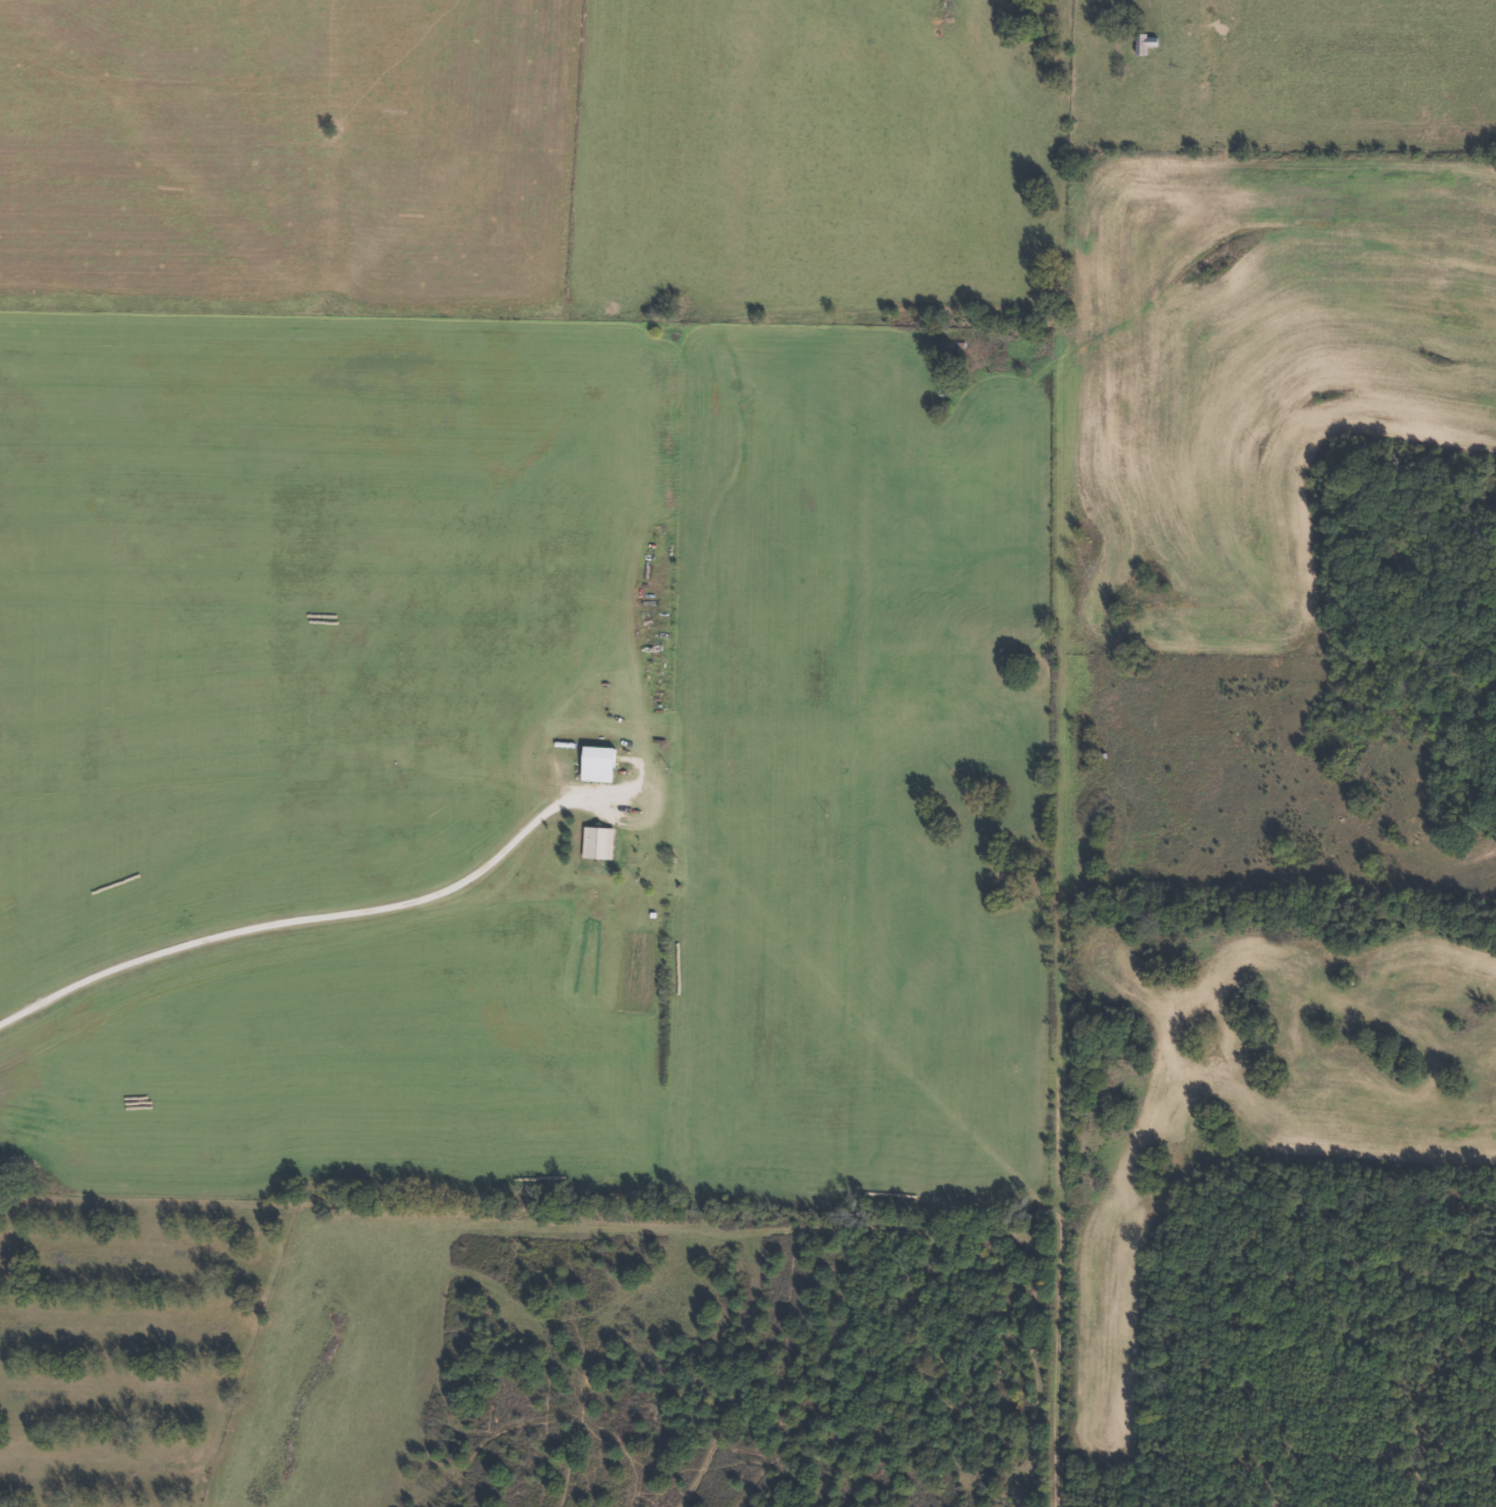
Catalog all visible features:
building: (1147, 42)
road: (1415, 199)
building: (600, 763)
building: (599, 842)

